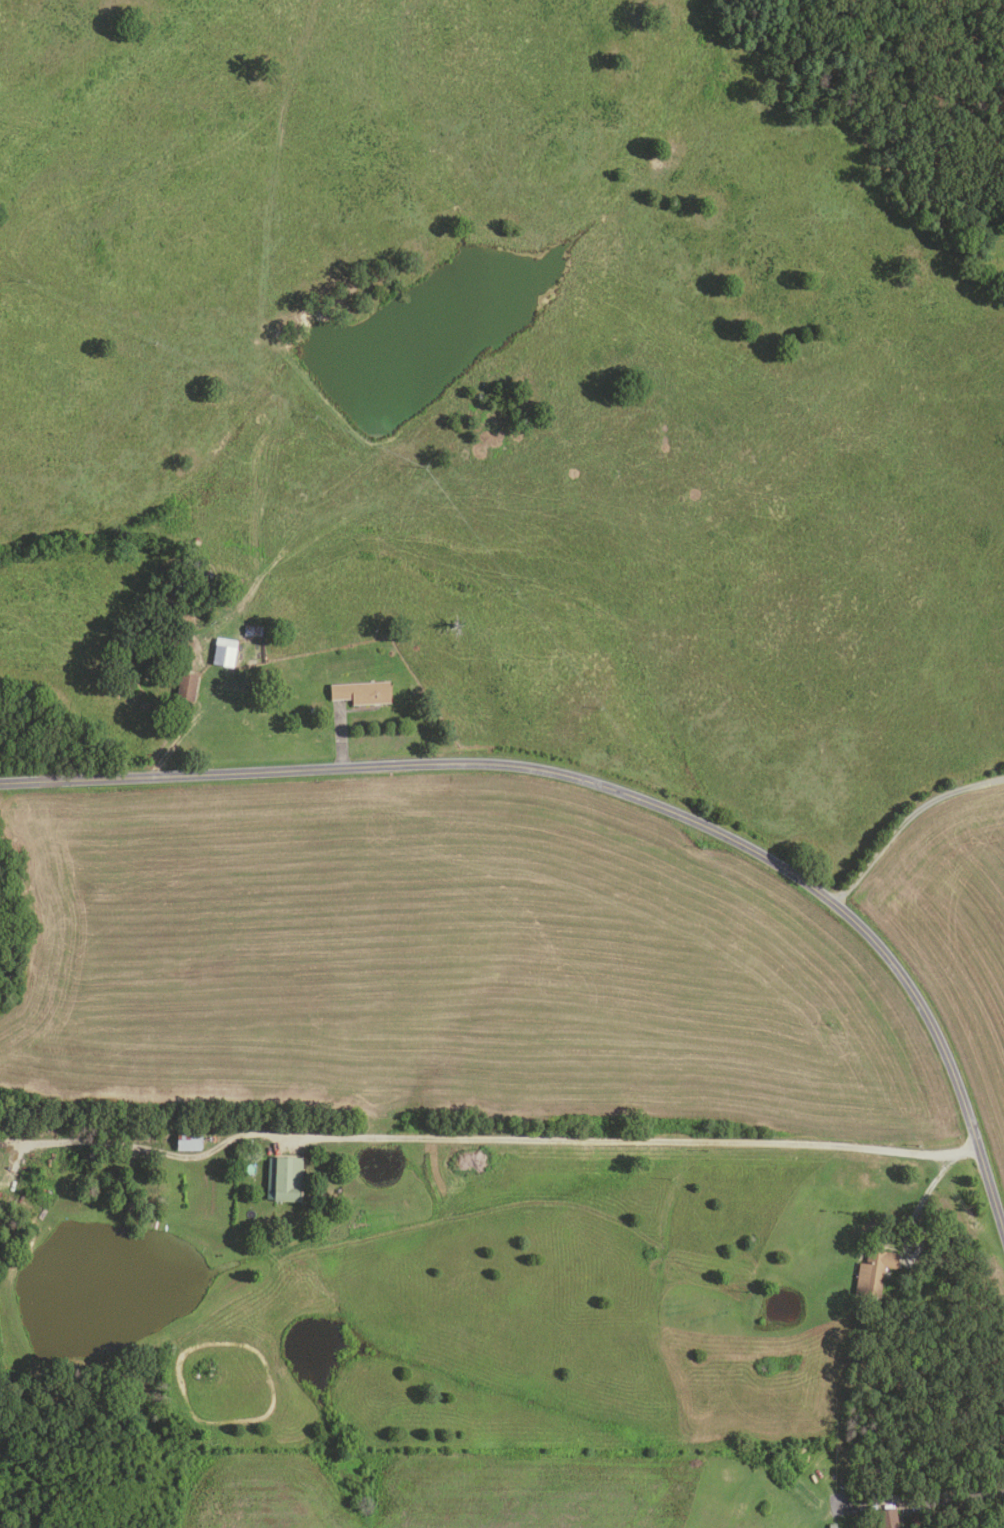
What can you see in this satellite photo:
building: (253, 630)
building: (225, 653)
building: (188, 687)
building: (363, 693)
road: (340, 737)
road: (618, 790)
road: (904, 820)
building: (190, 1139)
road: (496, 1141)
building: (285, 1178)
road: (917, 1202)
road: (919, 1233)
building: (875, 1271)
road: (947, 1499)
building: (889, 1518)
building: (833, 1525)

